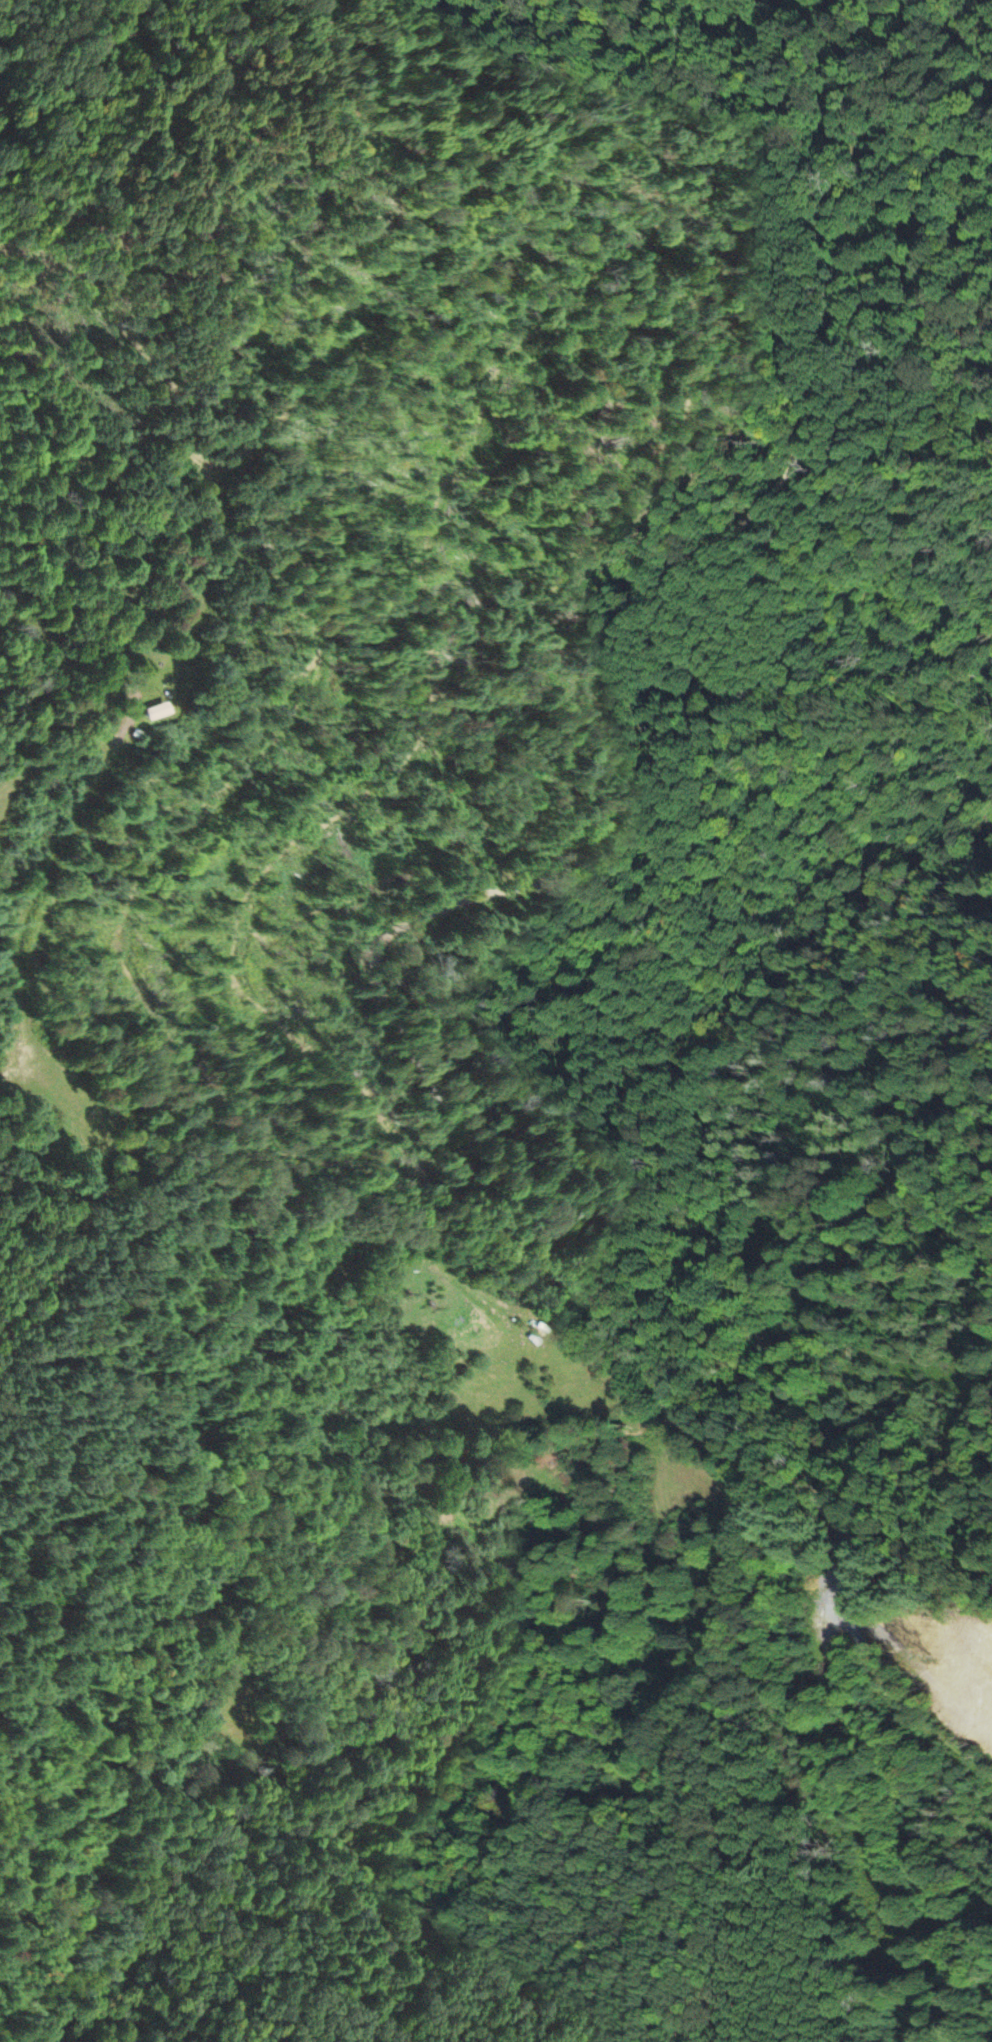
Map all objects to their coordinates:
road: (44, 50)
road: (754, 218)
building: (156, 710)
road: (401, 942)
road: (856, 1502)
road: (908, 1657)

